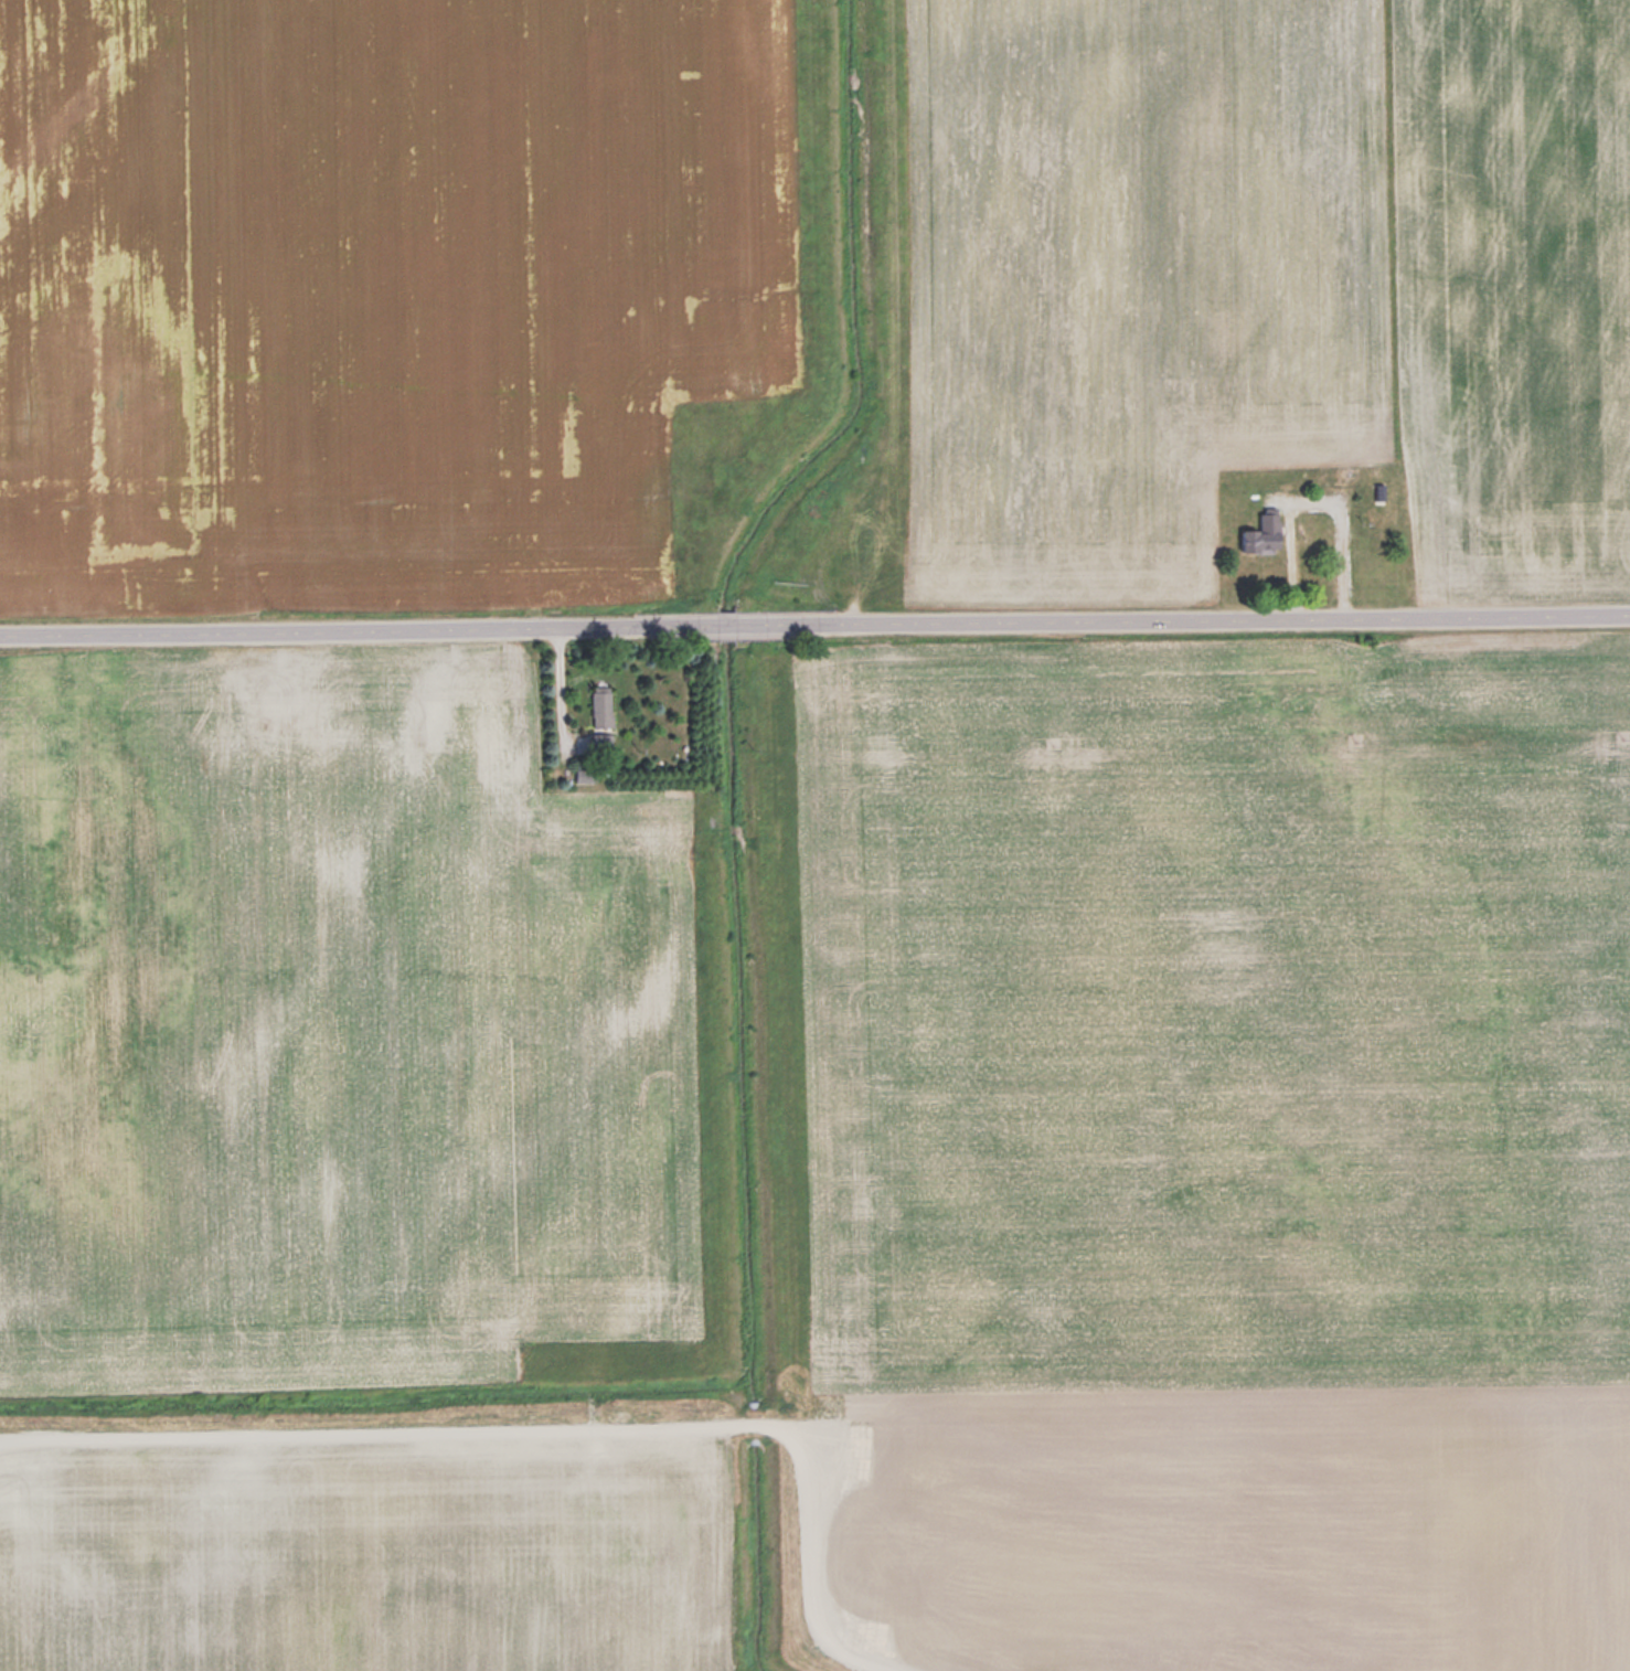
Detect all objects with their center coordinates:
building: (1385, 500)
building: (1266, 532)
road: (814, 627)
building: (603, 706)
building: (587, 774)

